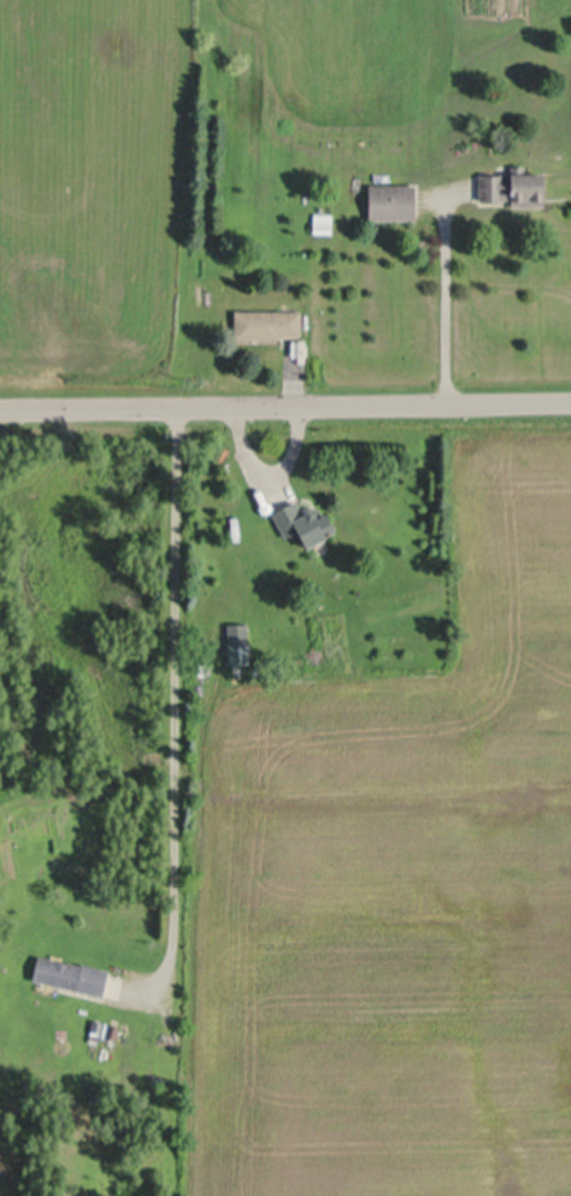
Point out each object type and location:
building: (516, 185)
building: (394, 200)
building: (324, 222)
building: (201, 287)
road: (445, 297)
building: (267, 322)
road: (284, 405)
building: (305, 520)
building: (240, 642)
building: (204, 666)
road: (171, 691)
building: (71, 972)
building: (99, 1025)
building: (112, 1030)
building: (169, 1136)

